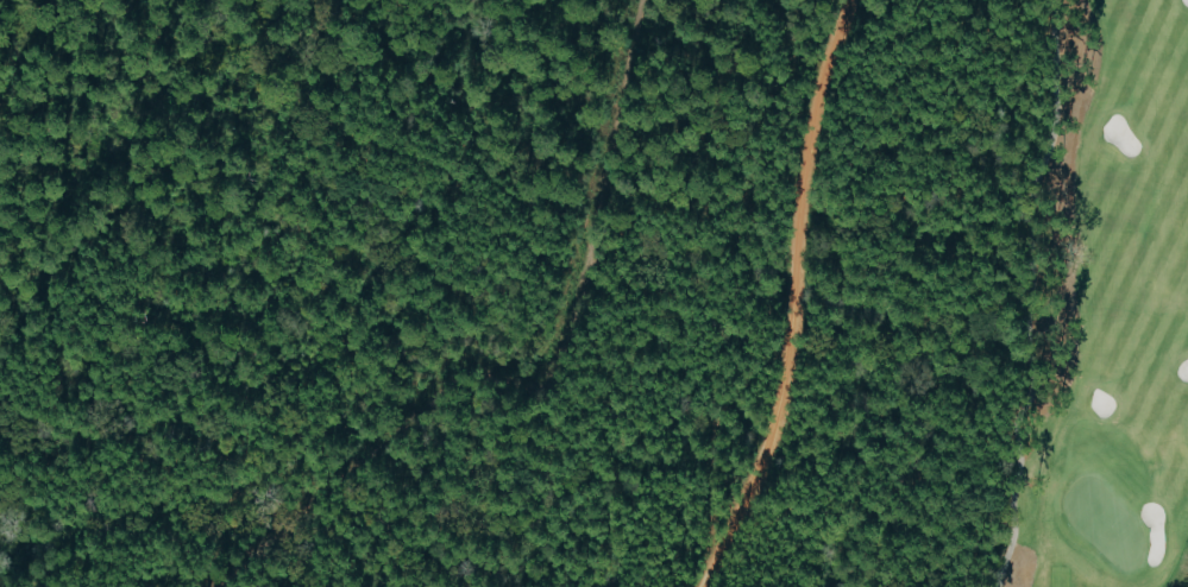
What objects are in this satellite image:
park: (1037, 364)

